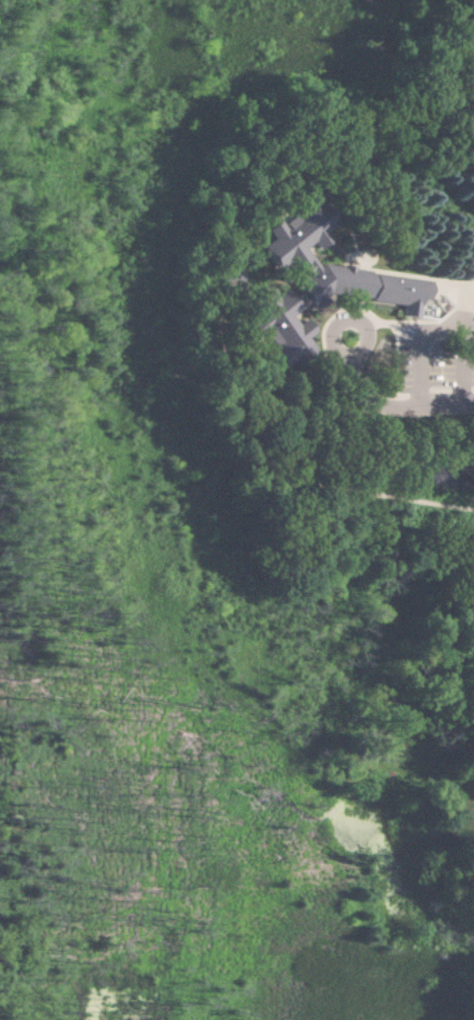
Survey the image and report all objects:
building: (473, 218)
building: (335, 272)
building: (277, 326)
road: (440, 329)
road: (383, 410)

